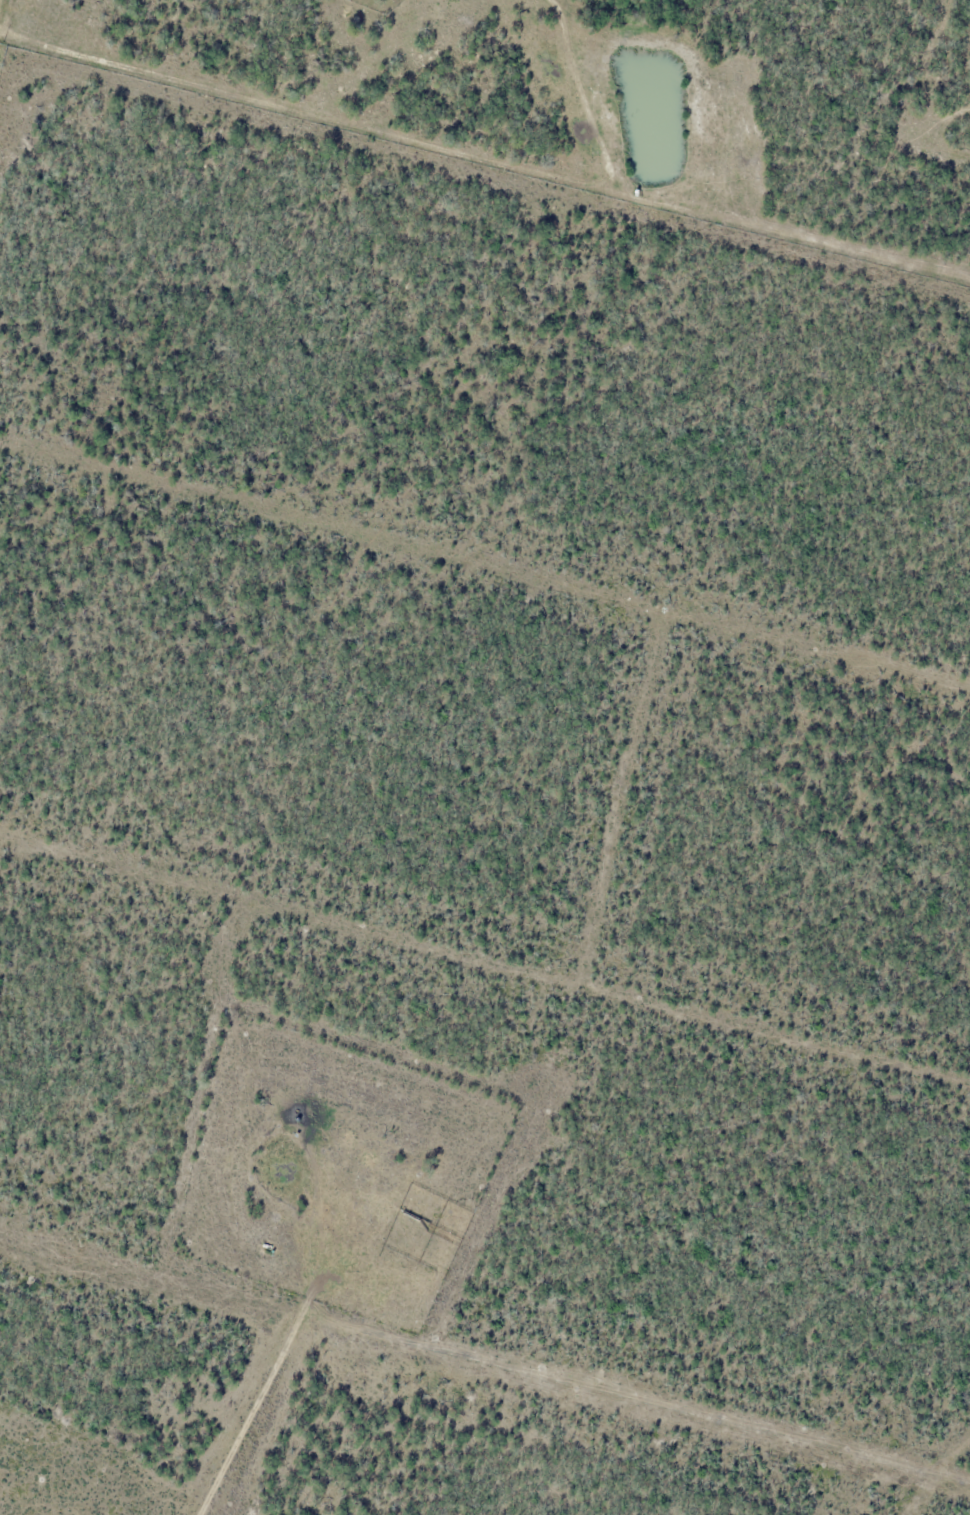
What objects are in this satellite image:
building: (268, 1244)

